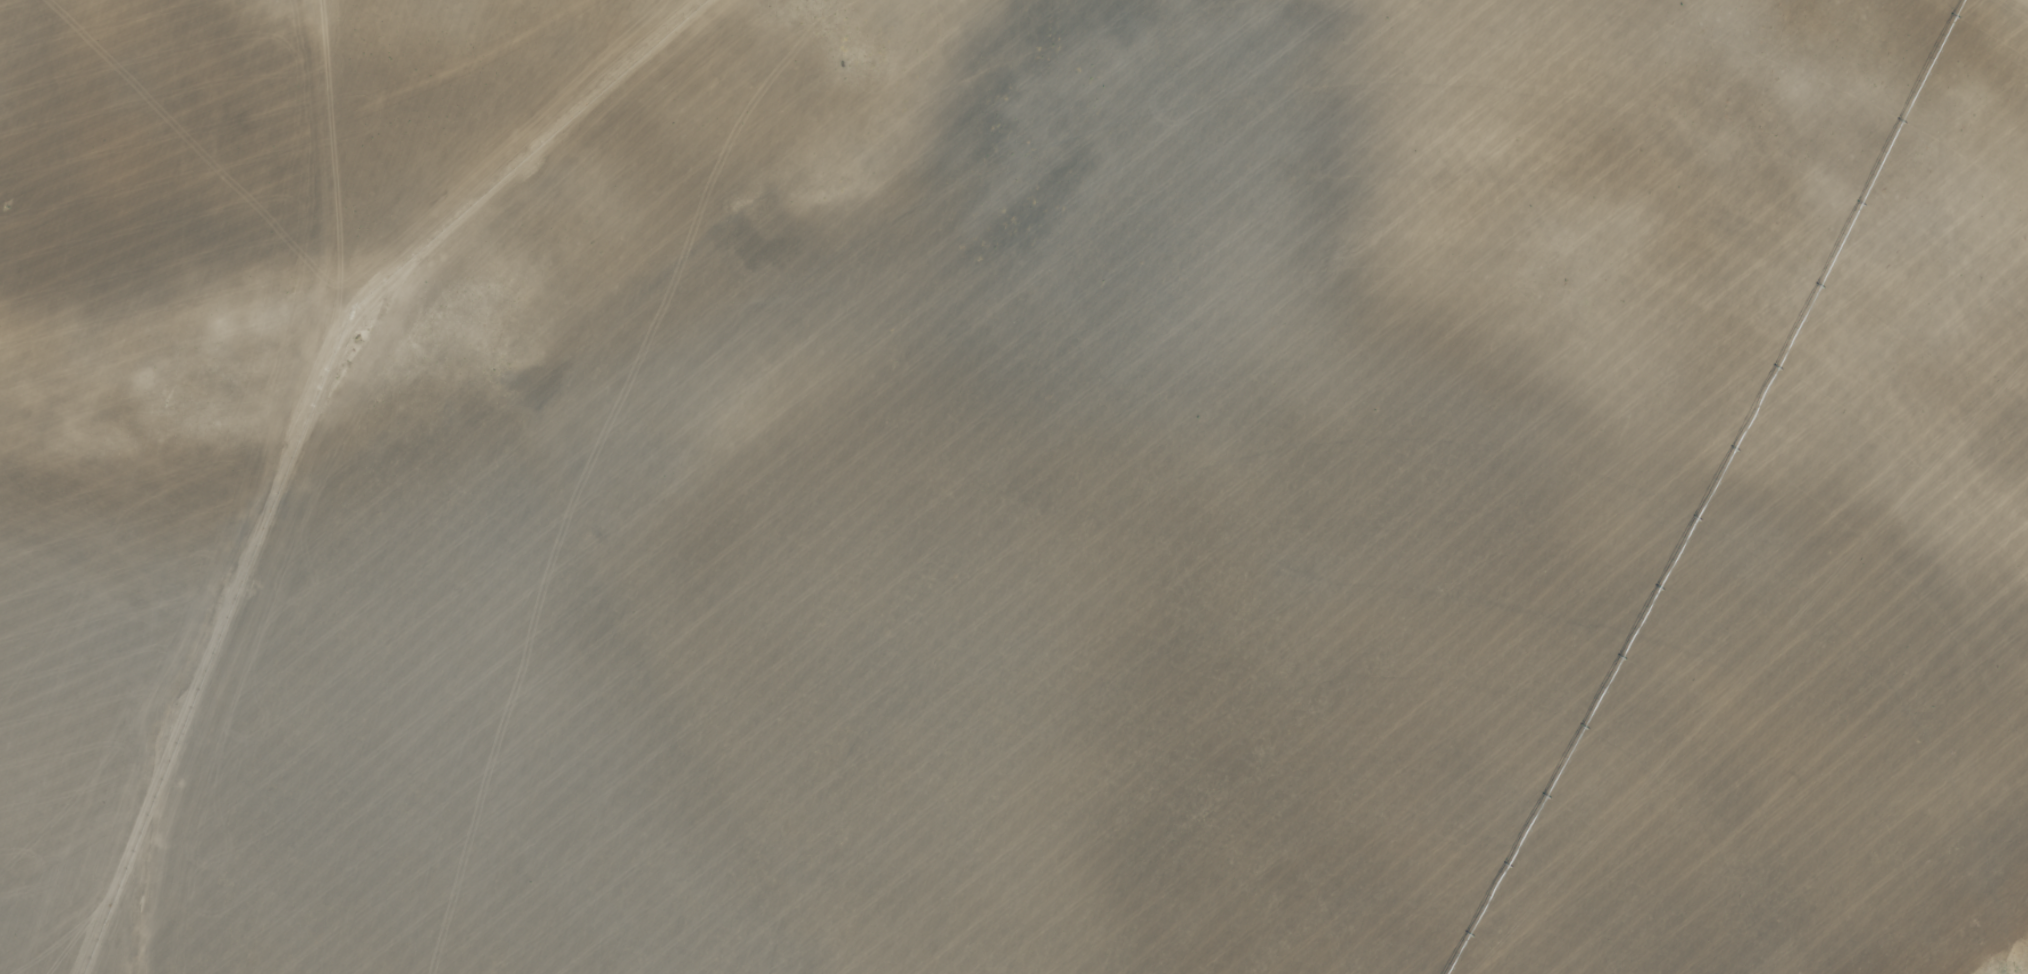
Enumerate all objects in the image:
road: (472, 484)

